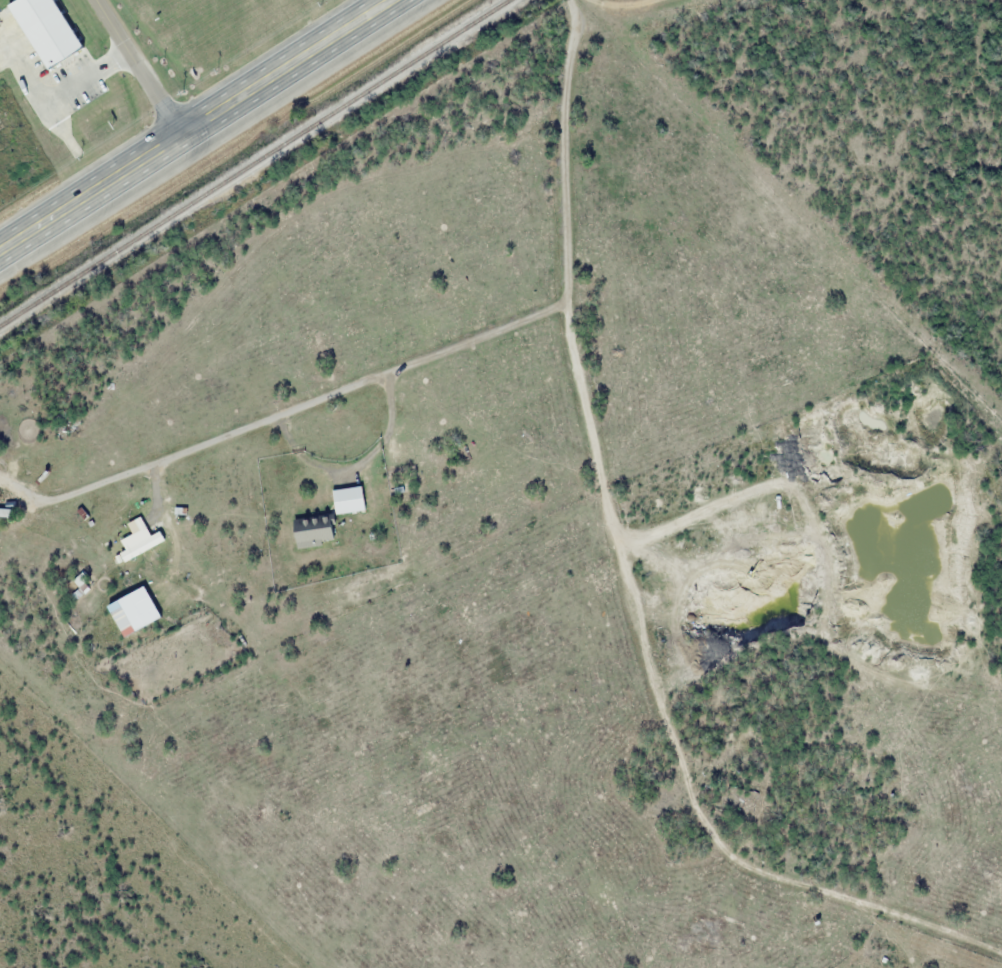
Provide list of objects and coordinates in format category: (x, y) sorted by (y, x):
building: (45, 29)
road: (137, 69)
road: (198, 128)
railway: (256, 164)
road: (480, 338)
building: (4, 512)
building: (138, 539)

